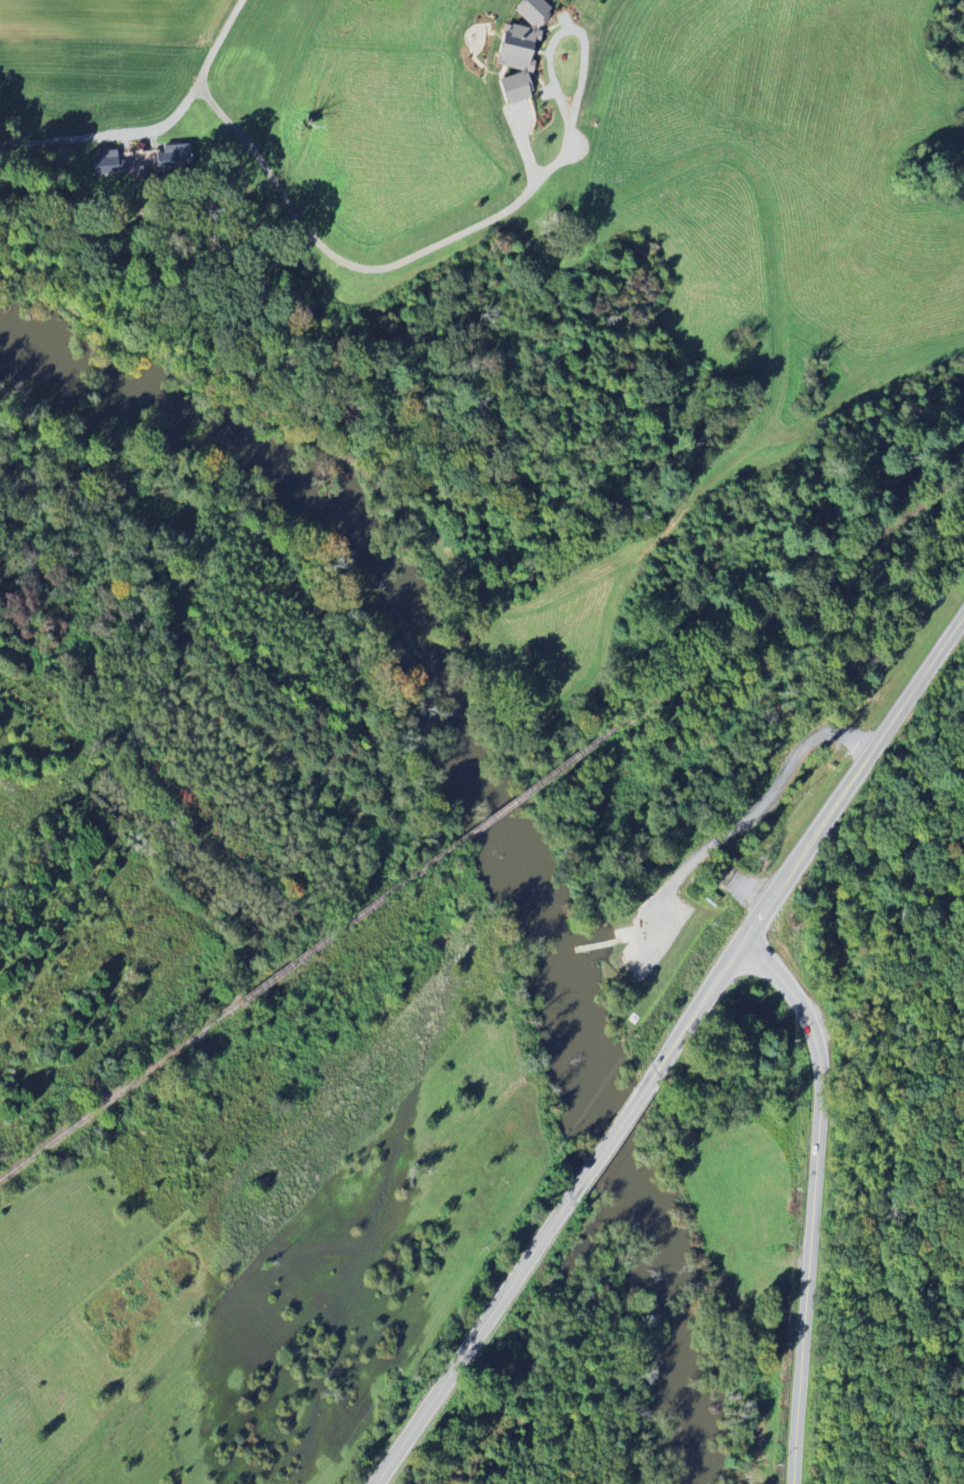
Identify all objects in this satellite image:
building: (512, 51)
road: (155, 126)
building: (172, 156)
building: (106, 164)
river: (337, 541)
railway: (791, 601)
road: (838, 801)
road: (752, 815)
railway: (426, 864)
river: (540, 921)
parking lot: (653, 932)
road: (620, 934)
road: (622, 940)
road: (593, 945)
pier: (594, 945)
road: (683, 1032)
railway: (119, 1088)
road: (611, 1134)
river: (635, 1187)
road: (819, 1199)
road: (476, 1340)
river: (700, 1459)

